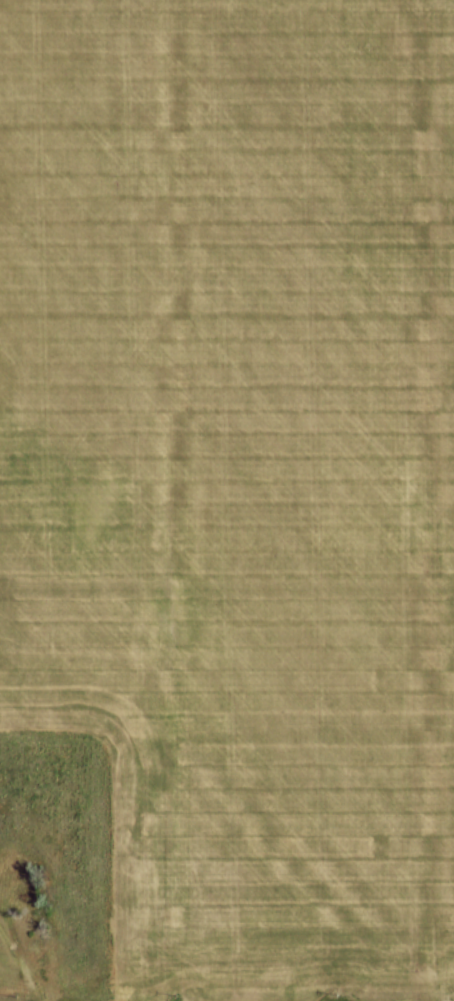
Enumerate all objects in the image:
crop: (230, 493)

